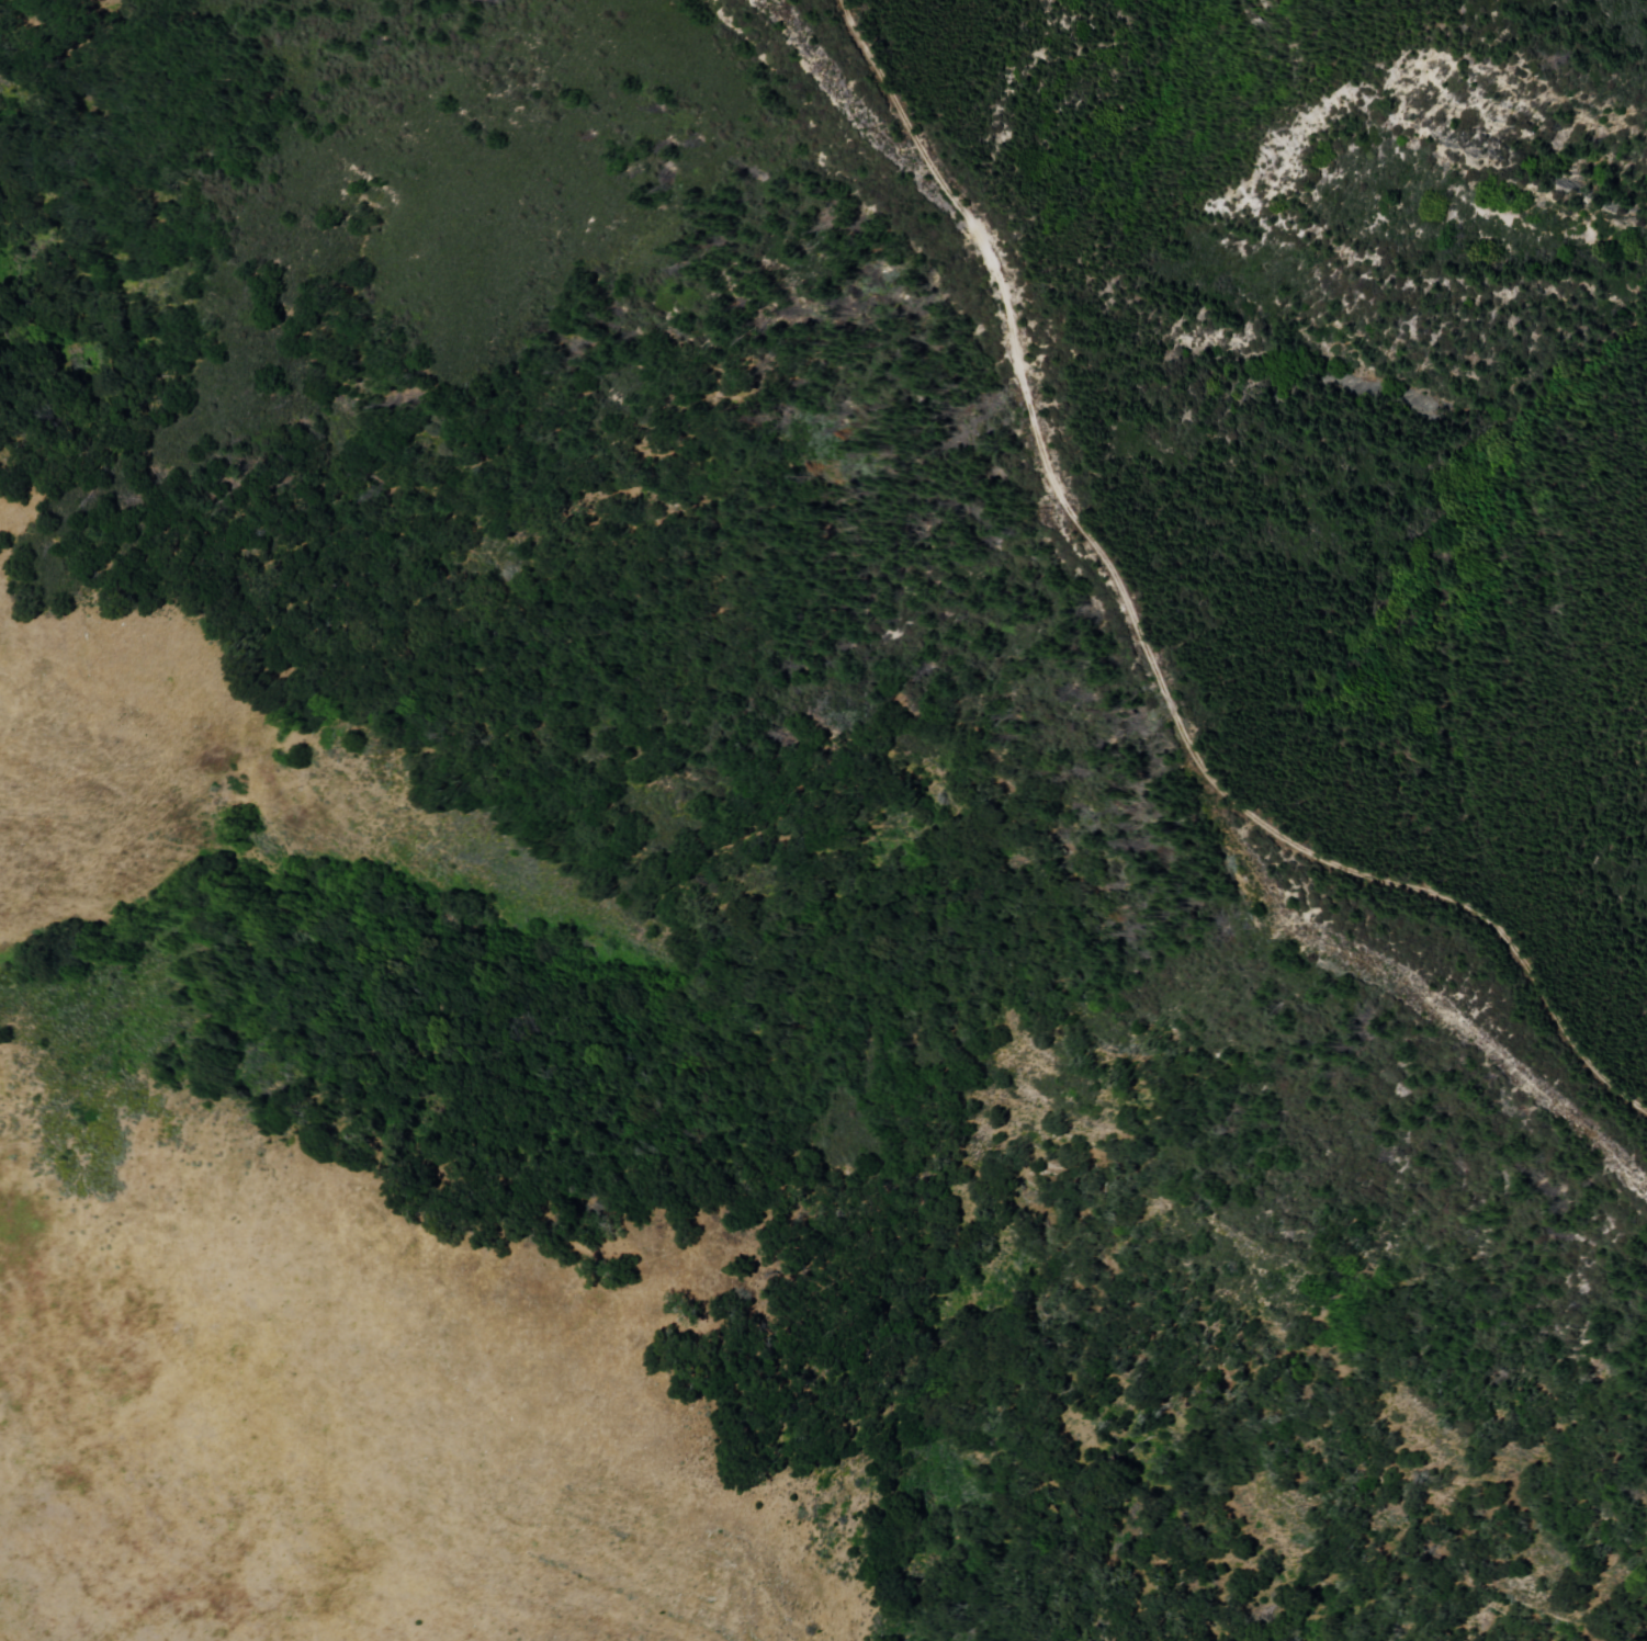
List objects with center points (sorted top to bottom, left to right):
road: (1143, 643)

